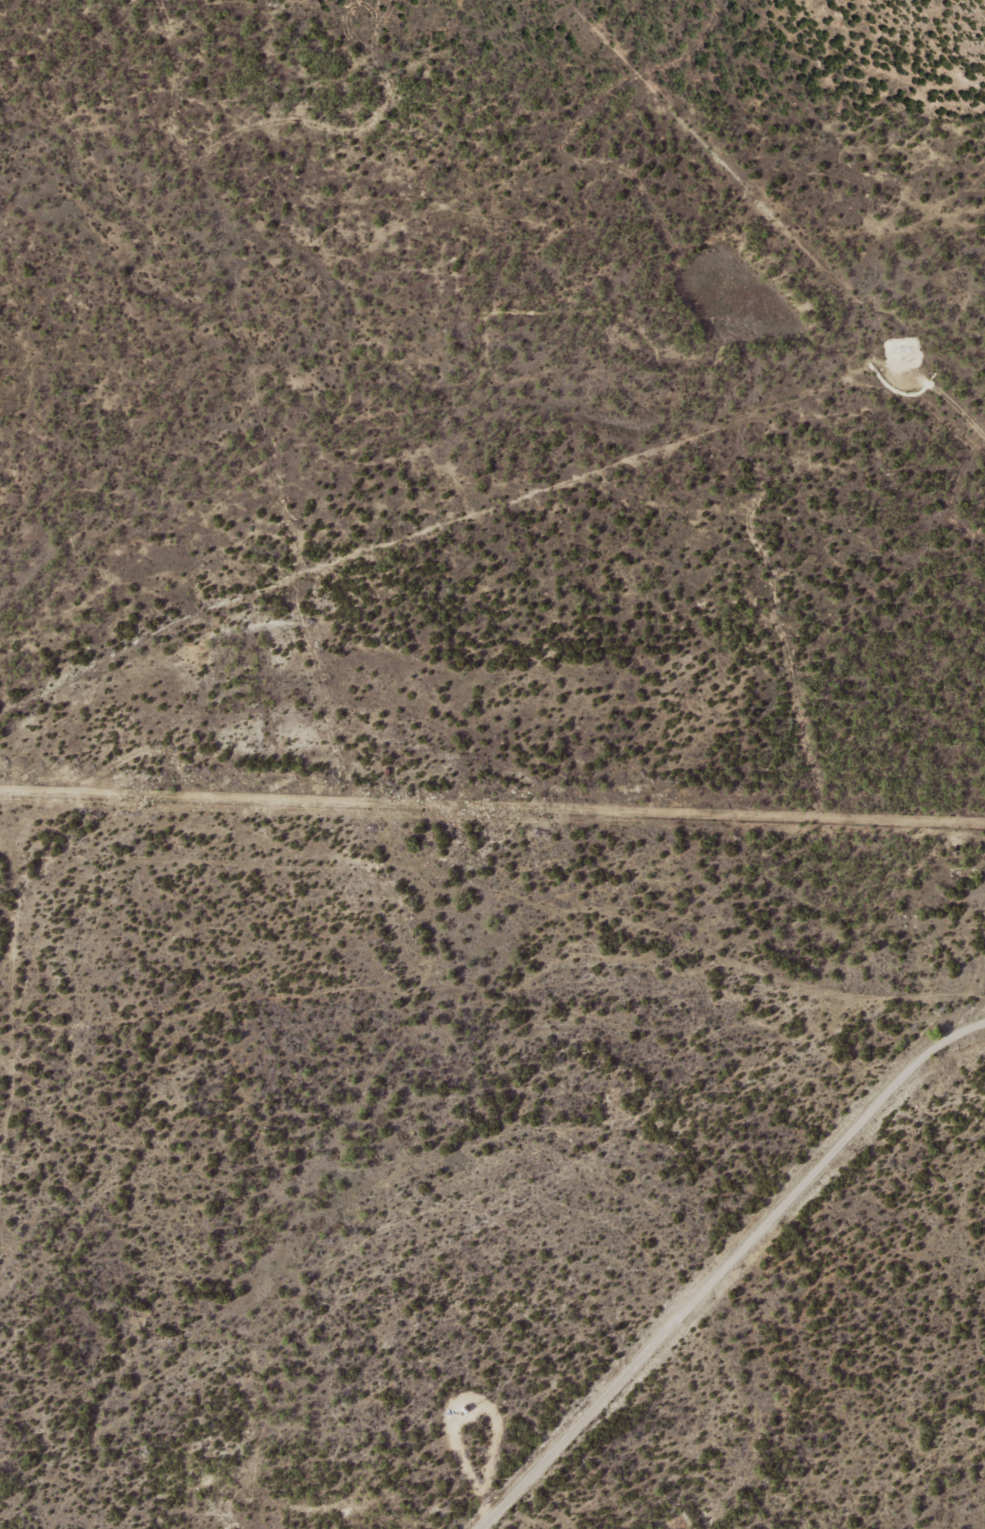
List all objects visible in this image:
road: (714, 1264)

